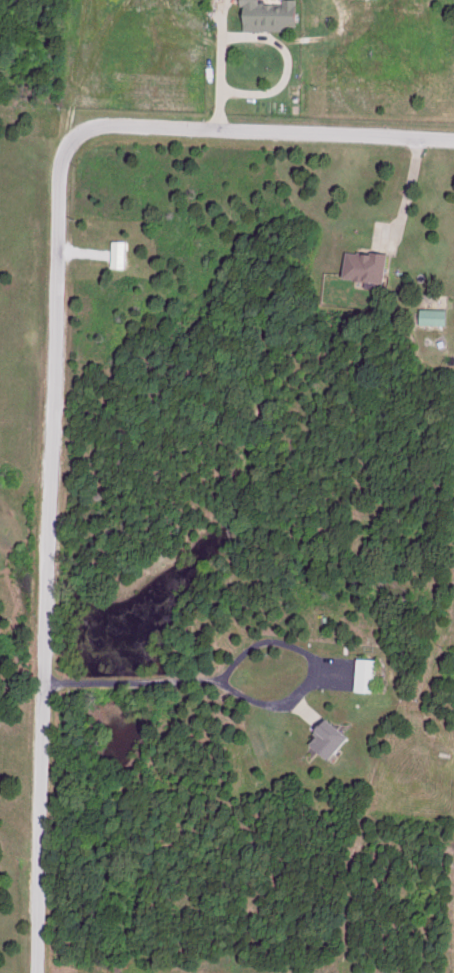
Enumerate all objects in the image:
building: (265, 14)
road: (219, 65)
road: (335, 136)
road: (411, 197)
building: (361, 265)
building: (428, 315)
road: (48, 480)
building: (361, 673)
road: (129, 684)
road: (311, 692)
building: (321, 737)

